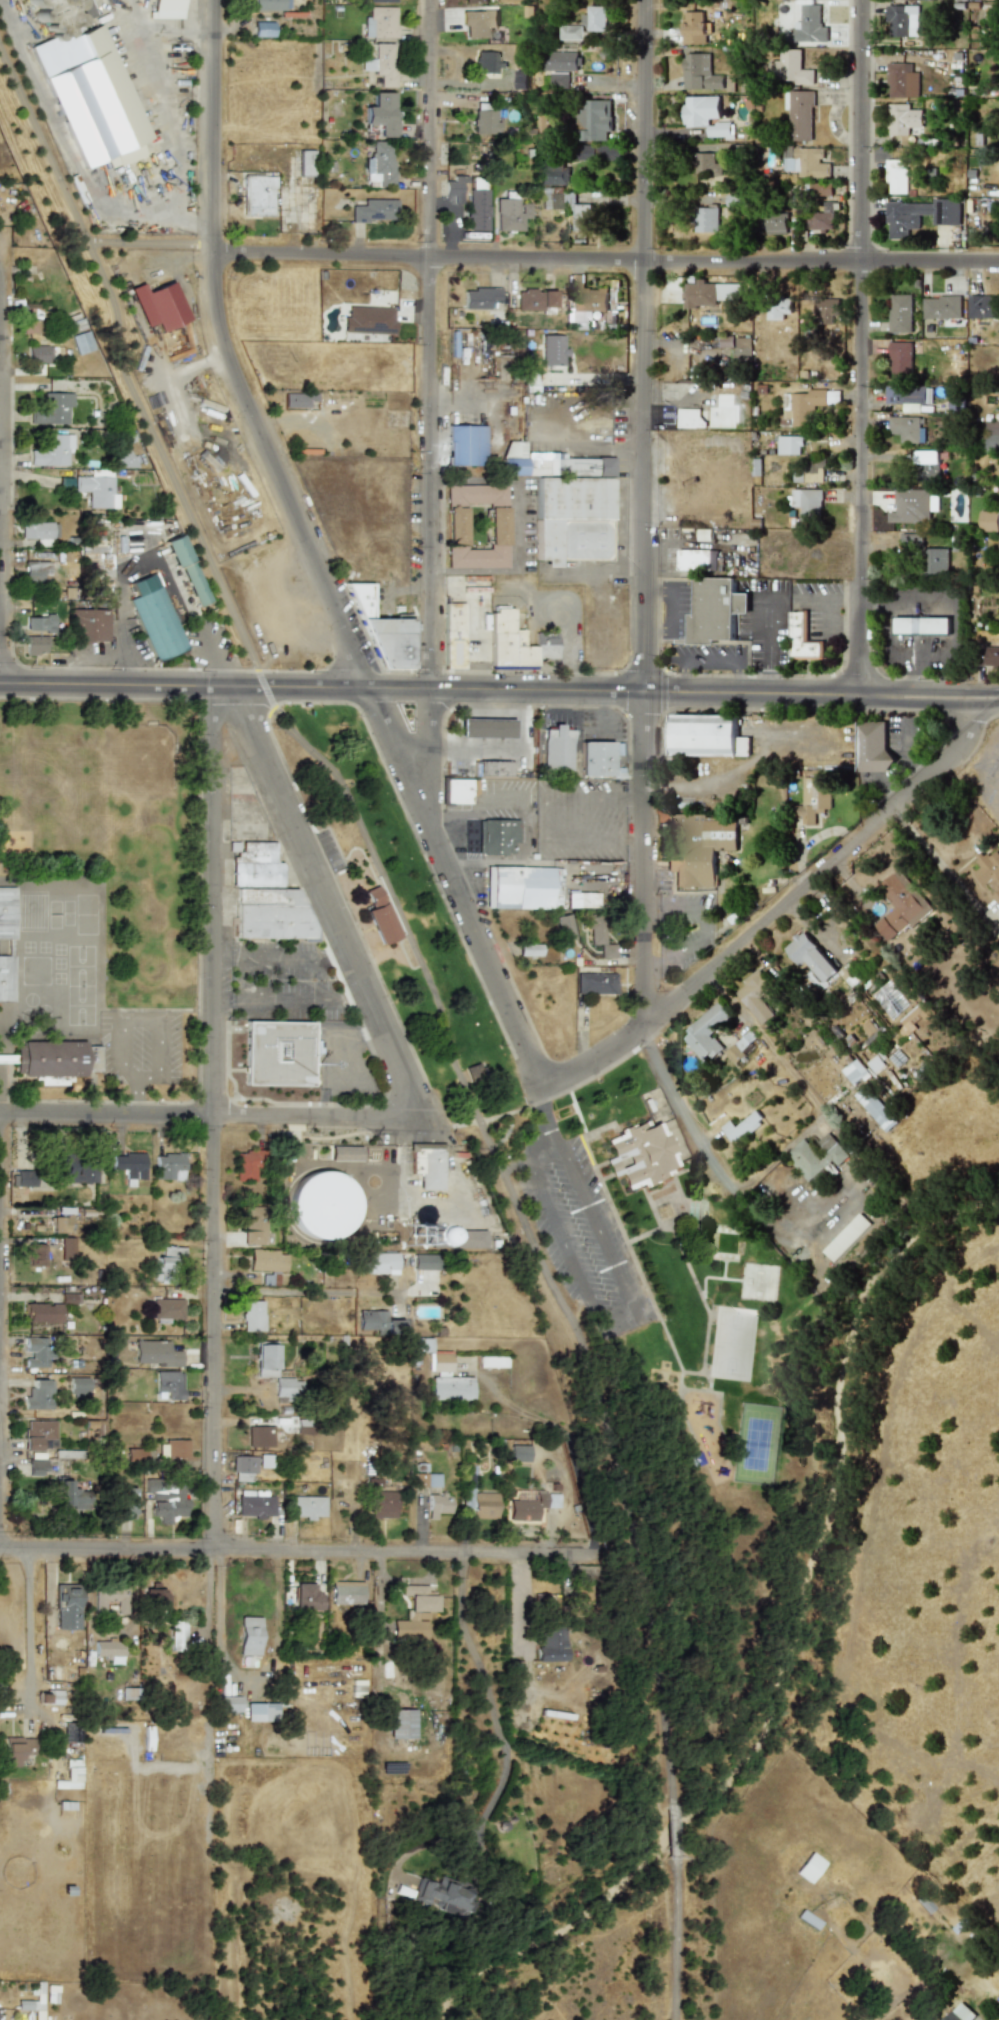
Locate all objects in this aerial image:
building: (382, 1)
building: (474, 1)
building: (271, 5)
building: (166, 9)
road: (129, 14)
building: (596, 18)
building: (902, 21)
building: (379, 22)
building: (478, 22)
building: (808, 26)
building: (693, 28)
building: (570, 32)
building: (561, 60)
building: (489, 62)
building: (381, 64)
building: (790, 67)
building: (699, 73)
building: (519, 79)
building: (559, 80)
building: (901, 80)
building: (85, 86)
road: (160, 98)
building: (380, 113)
building: (705, 115)
building: (801, 115)
building: (593, 119)
building: (903, 119)
building: (484, 122)
building: (540, 125)
road: (61, 140)
building: (380, 161)
building: (305, 163)
building: (810, 163)
building: (706, 165)
building: (553, 173)
building: (896, 176)
road: (213, 180)
building: (454, 188)
building: (258, 195)
building: (736, 200)
building: (566, 206)
building: (476, 209)
building: (374, 210)
building: (823, 212)
building: (511, 214)
building: (706, 220)
building: (904, 220)
building: (774, 224)
road: (0, 247)
road: (543, 261)
building: (709, 293)
building: (480, 297)
building: (534, 299)
building: (584, 299)
building: (158, 306)
building: (941, 307)
building: (983, 307)
building: (827, 308)
building: (777, 311)
building: (900, 313)
building: (30, 318)
road: (0, 320)
building: (368, 320)
building: (81, 343)
building: (737, 347)
road: (859, 348)
building: (552, 349)
building: (38, 354)
building: (900, 359)
building: (785, 369)
road: (428, 393)
building: (908, 397)
building: (805, 406)
building: (52, 409)
building: (690, 418)
building: (906, 429)
building: (991, 437)
building: (465, 445)
building: (789, 445)
building: (51, 450)
building: (926, 457)
building: (121, 459)
building: (550, 464)
building: (814, 470)
road: (472, 484)
building: (807, 504)
building: (910, 506)
road: (645, 510)
building: (572, 518)
building: (988, 521)
building: (475, 526)
road: (517, 529)
building: (39, 532)
building: (910, 541)
building: (177, 550)
building: (92, 556)
building: (696, 559)
building: (935, 560)
road: (126, 569)
building: (35, 571)
road: (473, 576)
building: (194, 584)
road: (943, 600)
building: (715, 610)
road: (680, 612)
building: (154, 617)
building: (39, 623)
building: (92, 625)
building: (921, 625)
building: (381, 631)
building: (453, 635)
building: (801, 638)
road: (569, 639)
road: (775, 642)
building: (516, 643)
building: (35, 645)
building: (990, 657)
road: (126, 671)
road: (488, 687)
road: (987, 699)
road: (571, 719)
road: (378, 720)
building: (485, 728)
building: (707, 736)
building: (872, 746)
building: (557, 748)
road: (507, 751)
building: (595, 759)
building: (493, 768)
building: (460, 791)
building: (813, 799)
road: (472, 811)
road: (552, 820)
building: (496, 836)
building: (697, 848)
building: (254, 865)
building: (989, 872)
building: (517, 887)
building: (555, 887)
building: (580, 900)
road: (336, 902)
road: (398, 905)
building: (900, 905)
road: (776, 909)
building: (6, 913)
building: (270, 914)
building: (379, 917)
building: (564, 928)
building: (600, 937)
building: (528, 950)
road: (286, 956)
building: (811, 960)
building: (6, 978)
building: (595, 983)
building: (756, 997)
road: (295, 999)
building: (895, 1004)
building: (920, 1012)
road: (129, 1024)
building: (706, 1032)
building: (277, 1053)
building: (54, 1058)
building: (474, 1072)
building: (854, 1072)
building: (54, 1080)
road: (541, 1093)
building: (875, 1109)
road: (217, 1114)
road: (212, 1117)
building: (741, 1126)
road: (700, 1140)
building: (345, 1153)
building: (640, 1155)
building: (816, 1156)
building: (247, 1164)
building: (128, 1165)
building: (428, 1165)
building: (168, 1166)
building: (75, 1171)
building: (23, 1178)
building: (322, 1206)
building: (59, 1223)
building: (252, 1225)
parking lot: (581, 1232)
building: (846, 1237)
building: (451, 1238)
building: (67, 1248)
building: (34, 1255)
building: (266, 1260)
building: (425, 1262)
building: (381, 1263)
building: (167, 1264)
road: (305, 1290)
park: (612, 1300)
building: (167, 1308)
building: (42, 1313)
building: (252, 1316)
building: (379, 1323)
road: (611, 1323)
building: (421, 1345)
building: (36, 1351)
building: (154, 1353)
building: (265, 1357)
building: (440, 1361)
building: (491, 1362)
building: (169, 1384)
building: (77, 1386)
building: (288, 1388)
building: (451, 1388)
building: (38, 1395)
building: (38, 1434)
building: (258, 1436)
park: (755, 1444)
building: (175, 1449)
building: (517, 1453)
building: (264, 1460)
building: (37, 1467)
building: (243, 1468)
building: (432, 1480)
building: (69, 1495)
building: (166, 1501)
building: (255, 1503)
building: (123, 1504)
building: (481, 1504)
building: (383, 1505)
building: (437, 1505)
building: (530, 1506)
building: (307, 1507)
road: (298, 1552)
building: (346, 1592)
building: (154, 1595)
building: (109, 1597)
building: (306, 1598)
building: (66, 1606)
building: (415, 1612)
road: (28, 1625)
building: (175, 1636)
building: (248, 1636)
building: (550, 1646)
building: (107, 1649)
road: (248, 1678)
building: (52, 1697)
road: (490, 1701)
crop: (890, 1701)
building: (229, 1704)
building: (260, 1712)
building: (401, 1723)
building: (14, 1749)
building: (69, 1775)
road: (673, 1831)
building: (807, 1867)
road: (676, 1939)
building: (960, 2013)

